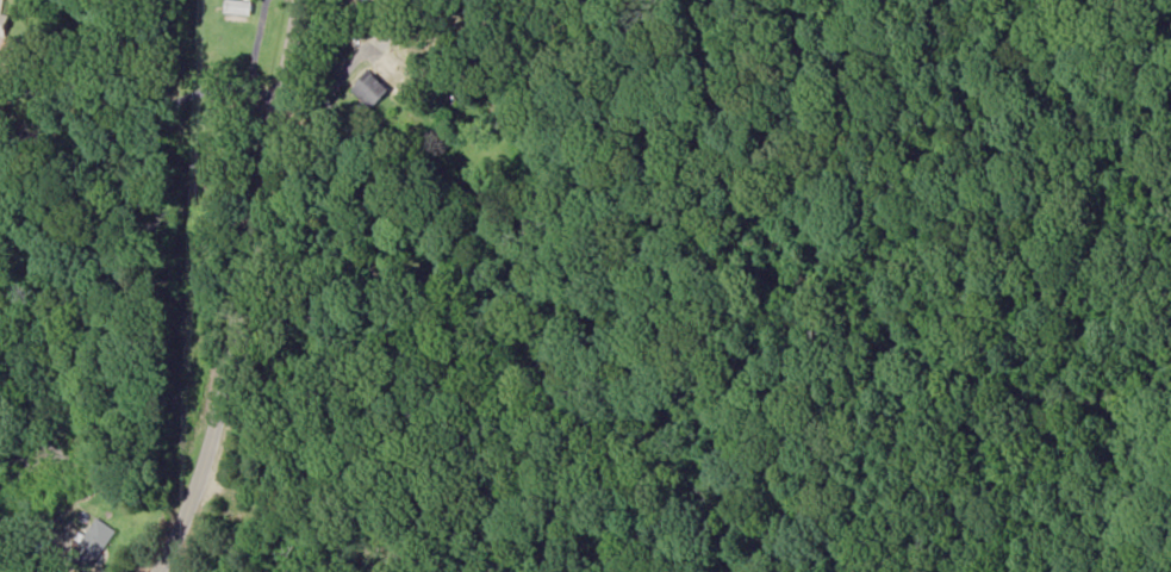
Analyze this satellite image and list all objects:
building: (2, 21)
building: (369, 89)
road: (255, 296)
building: (95, 541)

